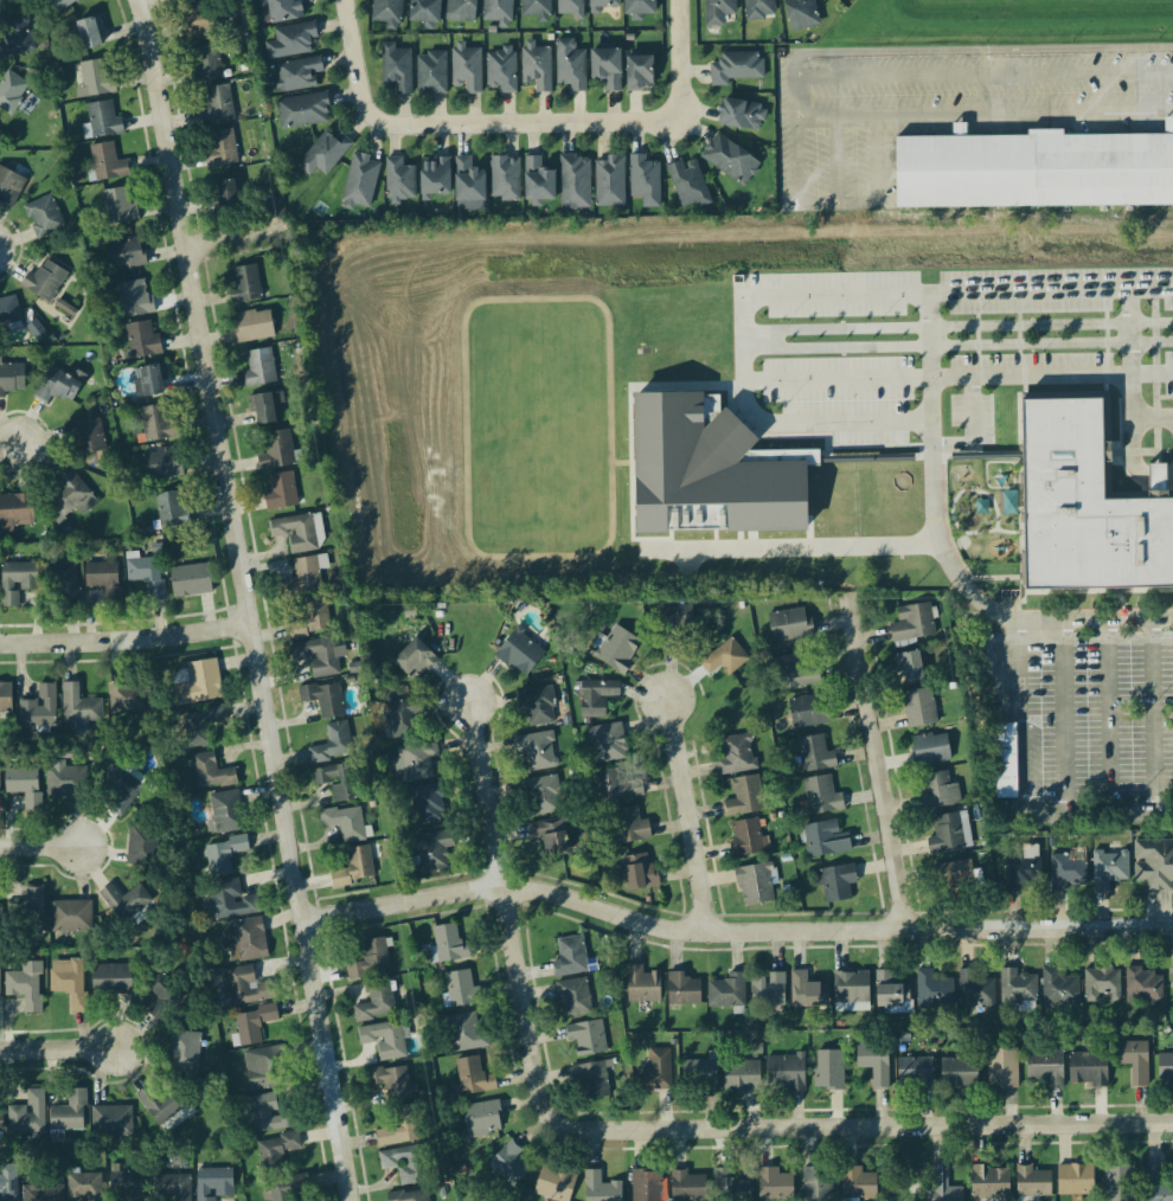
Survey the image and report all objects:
building: (180, 0)
building: (184, 0)
building: (60, 5)
building: (604, 5)
building: (639, 7)
building: (570, 8)
building: (284, 9)
building: (461, 9)
building: (534, 9)
building: (758, 9)
building: (387, 11)
building: (424, 11)
building: (498, 11)
building: (718, 12)
building: (800, 14)
building: (200, 24)
building: (89, 34)
building: (17, 37)
building: (290, 41)
road: (353, 62)
road: (678, 62)
building: (206, 64)
building: (570, 65)
building: (537, 66)
building: (605, 68)
building: (396, 69)
building: (466, 69)
building: (501, 69)
building: (738, 69)
building: (431, 73)
building: (639, 73)
building: (297, 75)
building: (96, 78)
building: (11, 91)
building: (217, 107)
building: (303, 111)
building: (744, 116)
building: (103, 121)
road: (524, 127)
building: (219, 149)
building: (322, 155)
building: (730, 160)
building: (108, 163)
building: (1034, 169)
building: (435, 179)
building: (505, 179)
building: (360, 181)
building: (399, 181)
building: (467, 181)
building: (538, 181)
building: (575, 182)
building: (609, 182)
building: (647, 182)
road: (799, 182)
building: (687, 185)
building: (9, 187)
building: (225, 198)
building: (118, 207)
building: (44, 218)
road: (235, 238)
road: (1164, 242)
building: (124, 256)
building: (45, 281)
building: (244, 285)
building: (135, 298)
road: (1129, 312)
building: (8, 314)
building: (254, 326)
building: (141, 340)
road: (744, 355)
road: (932, 355)
building: (259, 368)
road: (1052, 375)
road: (1129, 377)
building: (12, 380)
building: (147, 381)
building: (59, 386)
building: (263, 410)
building: (156, 423)
building: (84, 437)
road: (11, 447)
building: (276, 451)
building: (814, 460)
building: (161, 465)
road: (1133, 465)
building: (716, 475)
building: (280, 492)
building: (69, 497)
building: (1077, 506)
building: (172, 509)
building: (14, 513)
building: (299, 534)
road: (806, 548)
building: (143, 573)
building: (303, 578)
building: (104, 580)
building: (17, 582)
building: (190, 582)
building: (63, 583)
road: (246, 599)
building: (680, 616)
building: (310, 621)
building: (912, 624)
building: (789, 625)
road: (126, 640)
building: (616, 649)
building: (519, 654)
building: (318, 659)
building: (724, 659)
building: (414, 661)
building: (911, 668)
building: (795, 674)
building: (199, 685)
building: (596, 698)
building: (5, 699)
building: (129, 699)
building: (326, 700)
building: (79, 706)
building: (539, 707)
building: (39, 709)
building: (918, 709)
road: (1005, 709)
building: (808, 712)
road: (1154, 713)
building: (402, 719)
building: (200, 726)
building: (608, 744)
building: (333, 745)
building: (930, 751)
building: (537, 752)
building: (815, 756)
building: (736, 757)
building: (417, 760)
building: (1011, 762)
road: (872, 764)
building: (211, 773)
building: (66, 782)
building: (336, 782)
building: (0, 783)
building: (25, 785)
building: (617, 788)
building: (121, 789)
building: (941, 791)
building: (821, 796)
building: (543, 797)
building: (745, 797)
building: (427, 805)
building: (226, 813)
road: (690, 817)
building: (345, 824)
building: (629, 826)
building: (949, 834)
building: (547, 839)
building: (748, 839)
building: (826, 840)
road: (39, 846)
building: (143, 846)
building: (432, 852)
building: (223, 855)
building: (1153, 867)
building: (1109, 868)
building: (354, 869)
building: (639, 873)
building: (1069, 873)
building: (1023, 874)
building: (955, 876)
building: (837, 884)
building: (755, 886)
building: (232, 901)
building: (124, 903)
building: (28, 910)
road: (506, 916)
building: (70, 917)
building: (1, 918)
road: (732, 932)
building: (244, 940)
building: (450, 945)
building: (570, 957)
building: (370, 961)
building: (111, 980)
building: (24, 982)
building: (69, 983)
building: (0, 985)
building: (242, 987)
building: (642, 987)
building: (1102, 987)
building: (1145, 987)
building: (1171, 987)
building: (460, 989)
building: (851, 989)
building: (1018, 989)
building: (682, 990)
building: (977, 990)
building: (1058, 990)
building: (767, 991)
building: (803, 991)
building: (934, 991)
building: (727, 993)
building: (890, 994)
building: (162, 996)
building: (573, 998)
building: (377, 1002)
building: (252, 1025)
building: (466, 1033)
building: (586, 1039)
building: (385, 1041)
road: (58, 1048)
building: (185, 1053)
building: (1134, 1061)
building: (874, 1065)
building: (1165, 1066)
building: (267, 1068)
building: (1002, 1068)
building: (1044, 1068)
building: (658, 1071)
building: (829, 1071)
building: (1088, 1071)
building: (915, 1073)
building: (699, 1074)
building: (784, 1074)
building: (959, 1074)
building: (741, 1077)
building: (470, 1079)
building: (591, 1080)
building: (391, 1083)
building: (162, 1105)
building: (68, 1113)
building: (269, 1115)
building: (27, 1116)
building: (481, 1119)
building: (111, 1122)
building: (0, 1125)
road: (863, 1126)
building: (399, 1129)
building: (276, 1152)
building: (409, 1164)
building: (511, 1164)
building: (1075, 1181)
building: (1032, 1183)
building: (1156, 1183)
building: (8, 1184)
building: (213, 1184)
building: (555, 1184)
building: (816, 1184)
building: (858, 1184)
building: (989, 1184)
building: (1117, 1184)
building: (128, 1186)
building: (646, 1186)
building: (774, 1186)
building: (943, 1186)
building: (729, 1187)
building: (84, 1188)
building: (172, 1188)
building: (287, 1188)
building: (600, 1188)
building: (688, 1188)
building: (41, 1193)
building: (409, 1196)

